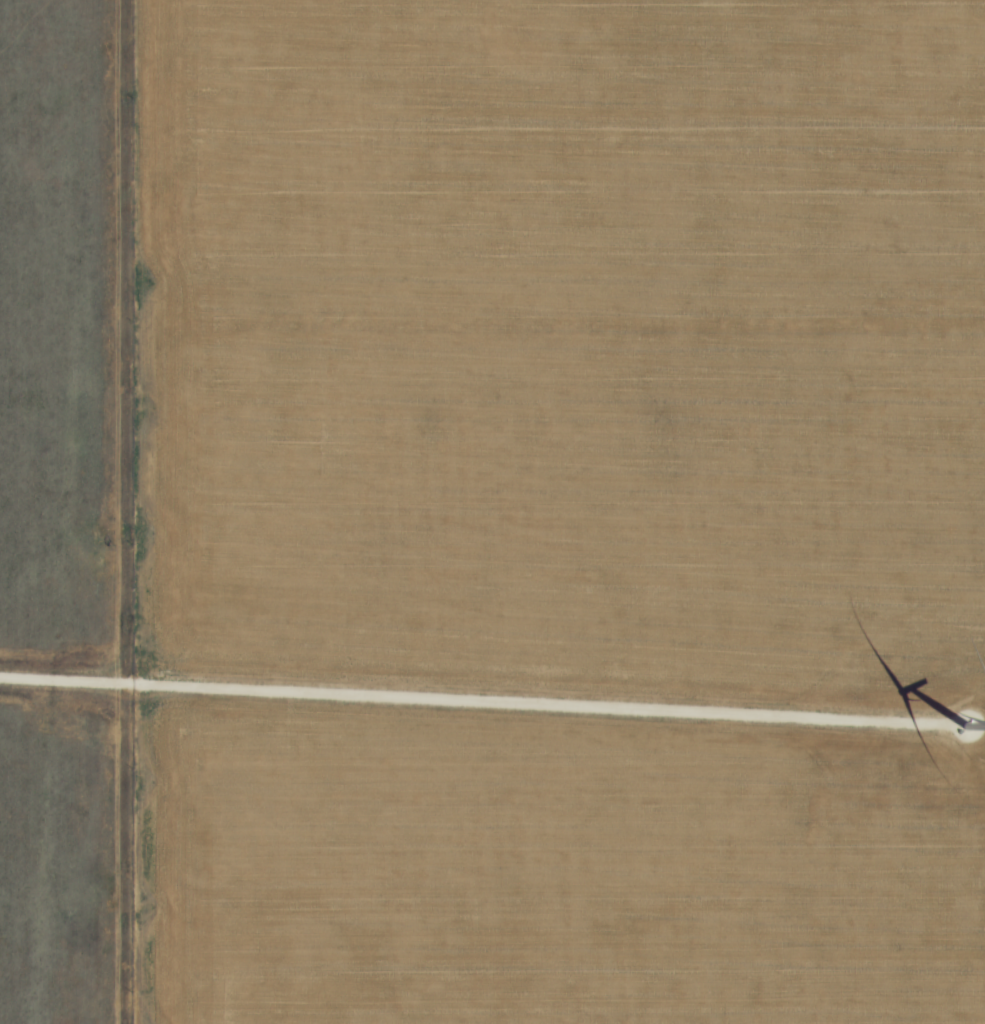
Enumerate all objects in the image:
wind turbine: (962, 732)

